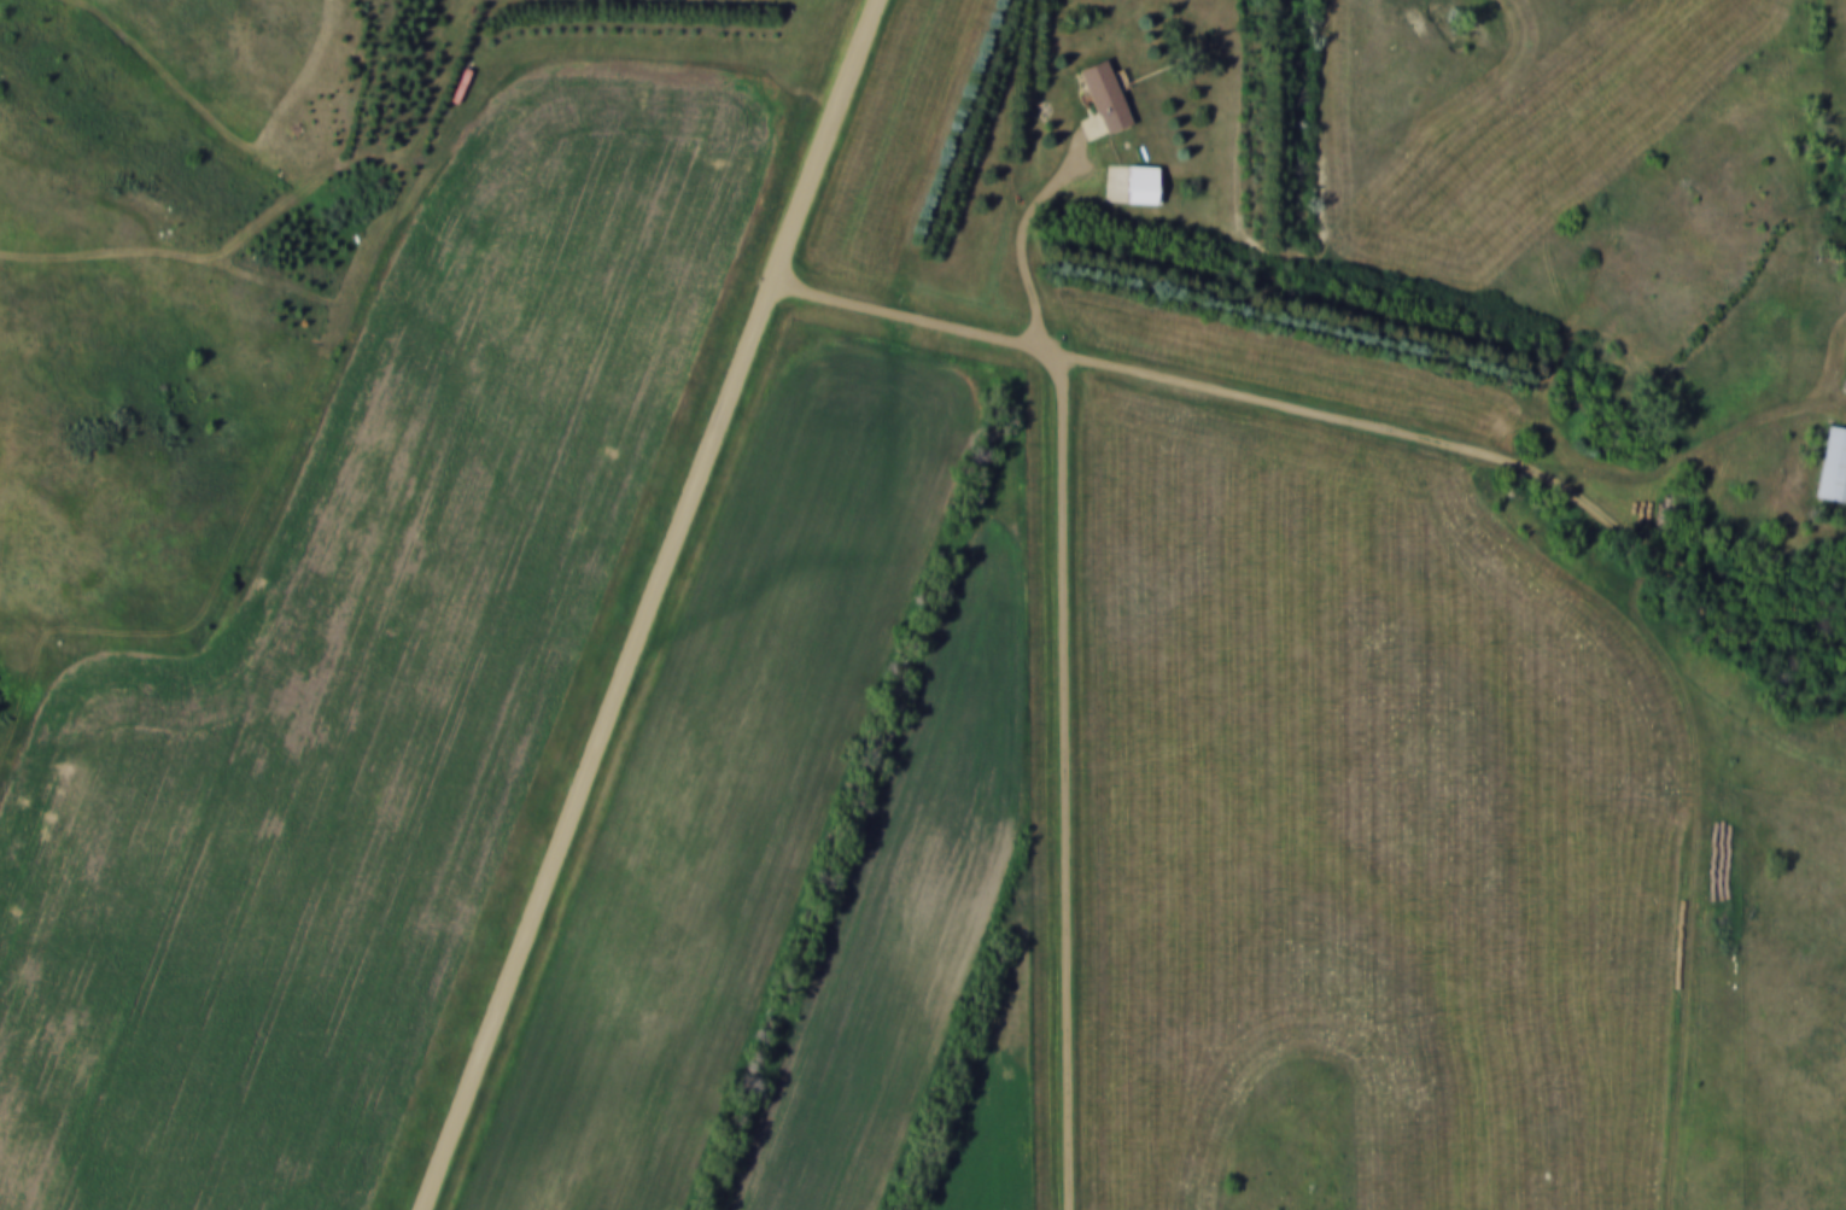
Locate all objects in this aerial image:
building: (1105, 97)
building: (1144, 185)
road: (1016, 226)
road: (1336, 422)
building: (1834, 467)
road: (652, 604)

